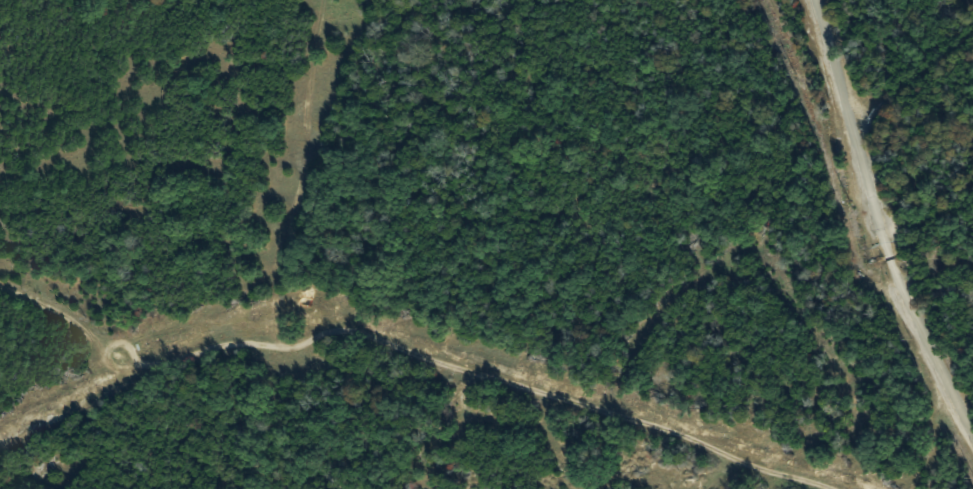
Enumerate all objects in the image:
road: (845, 127)
park: (486, 244)
road: (926, 352)

